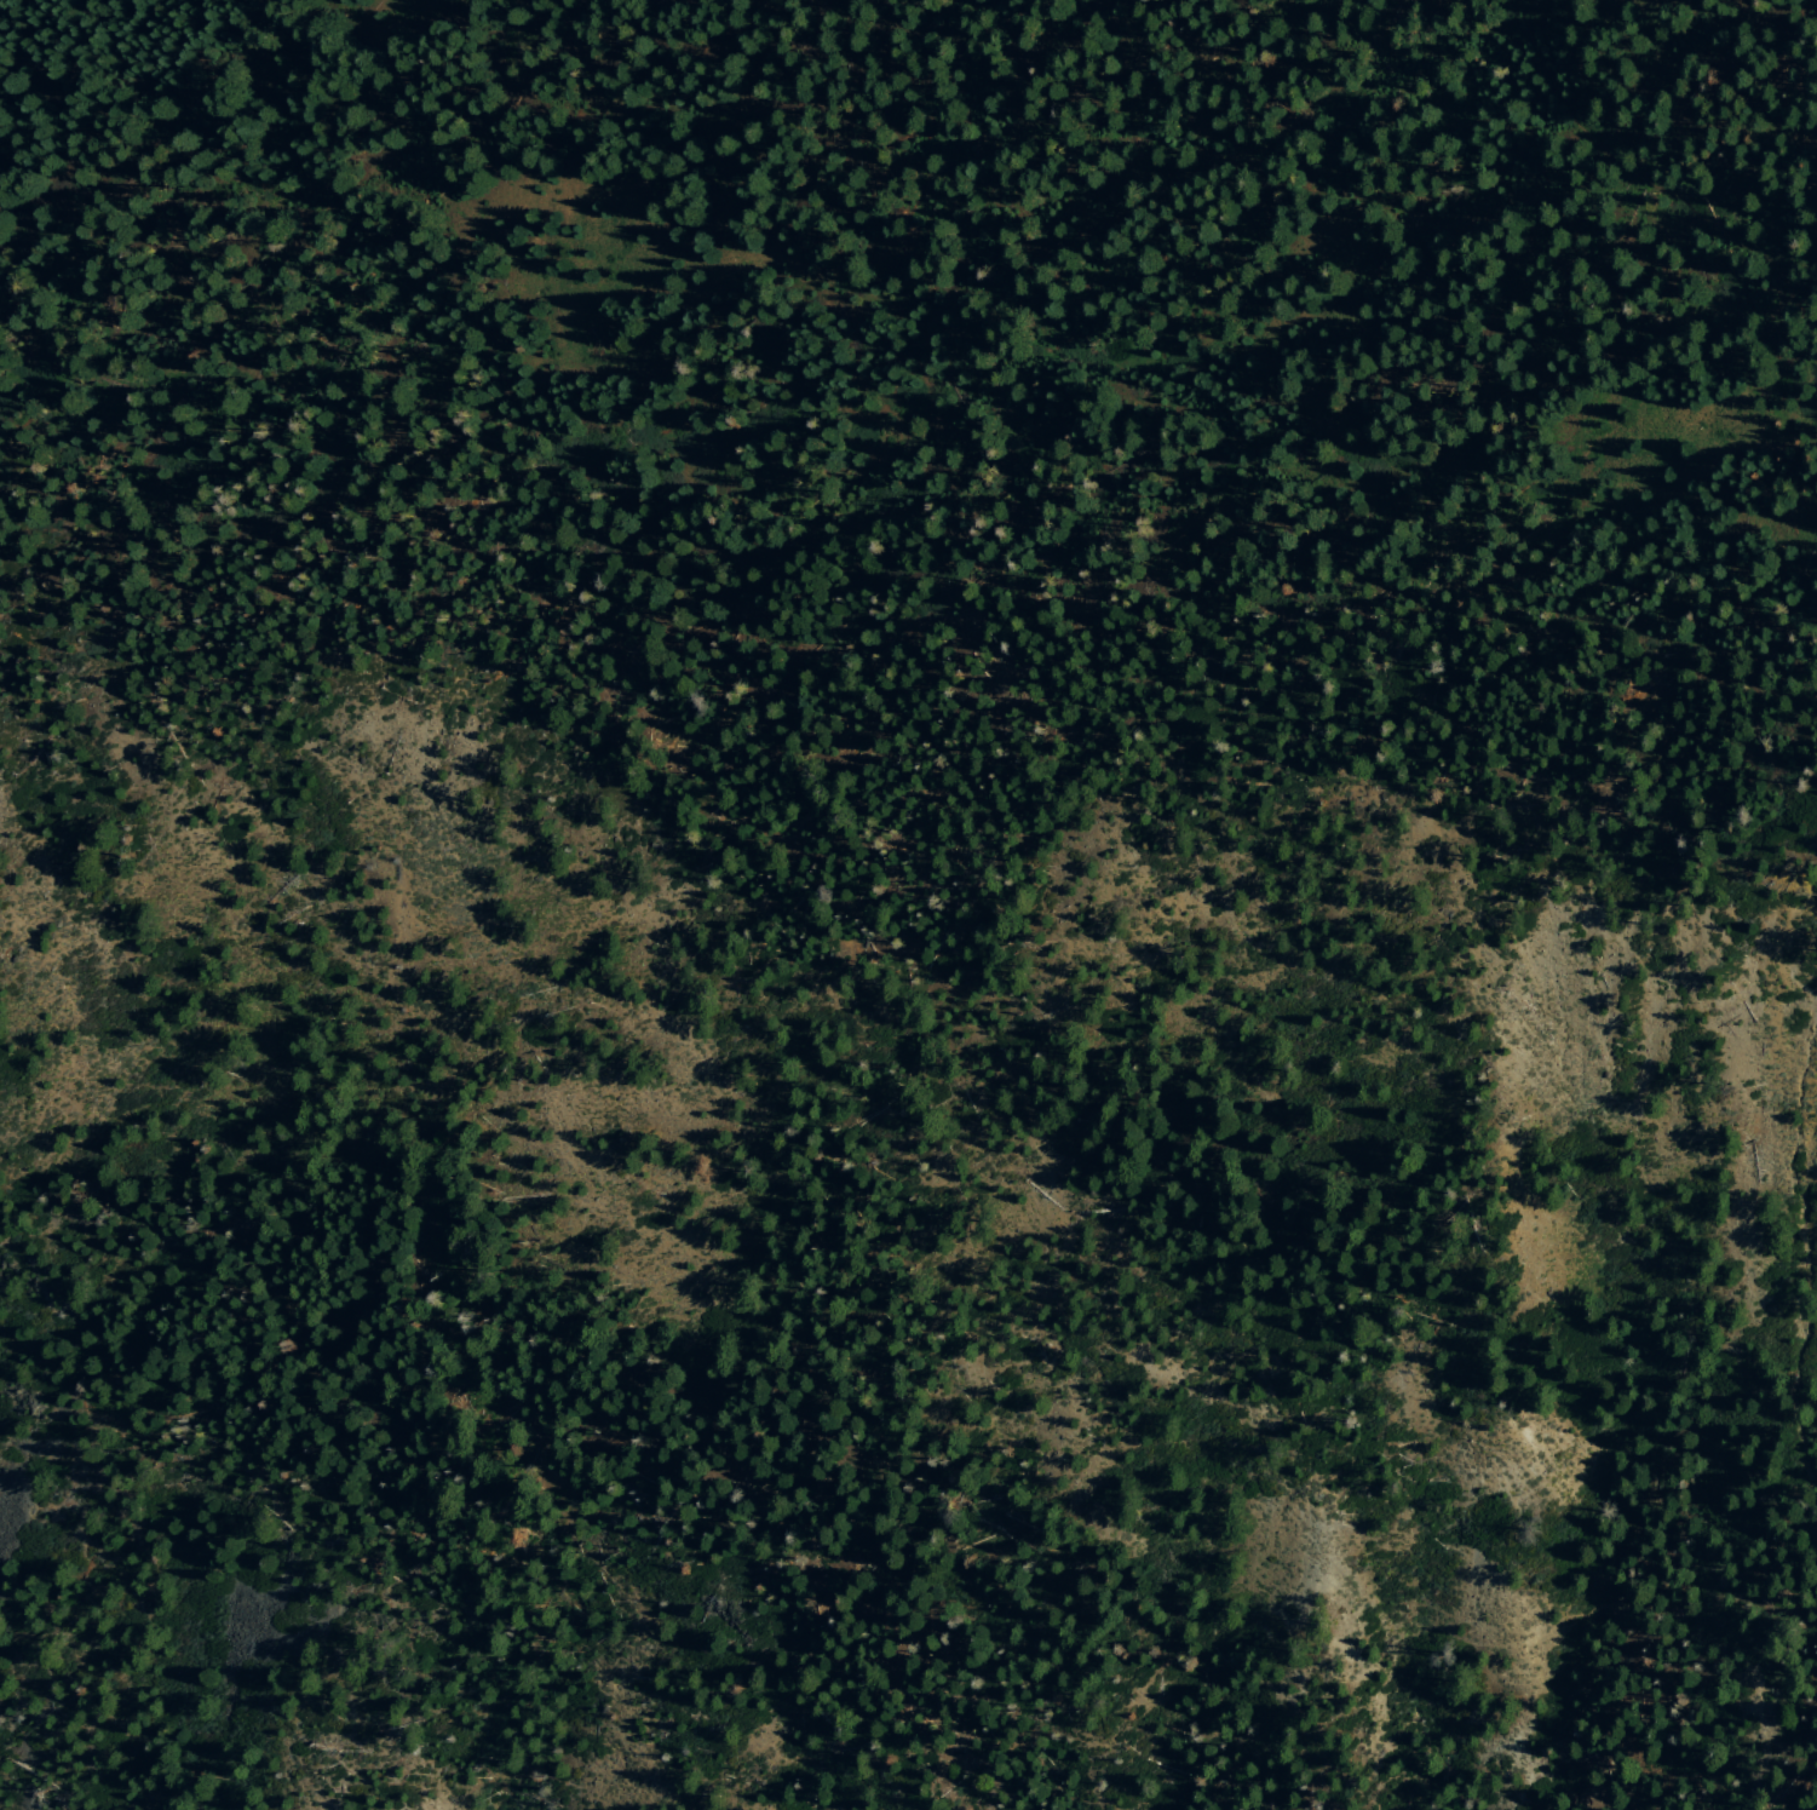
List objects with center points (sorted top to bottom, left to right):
road: (1655, 196)

